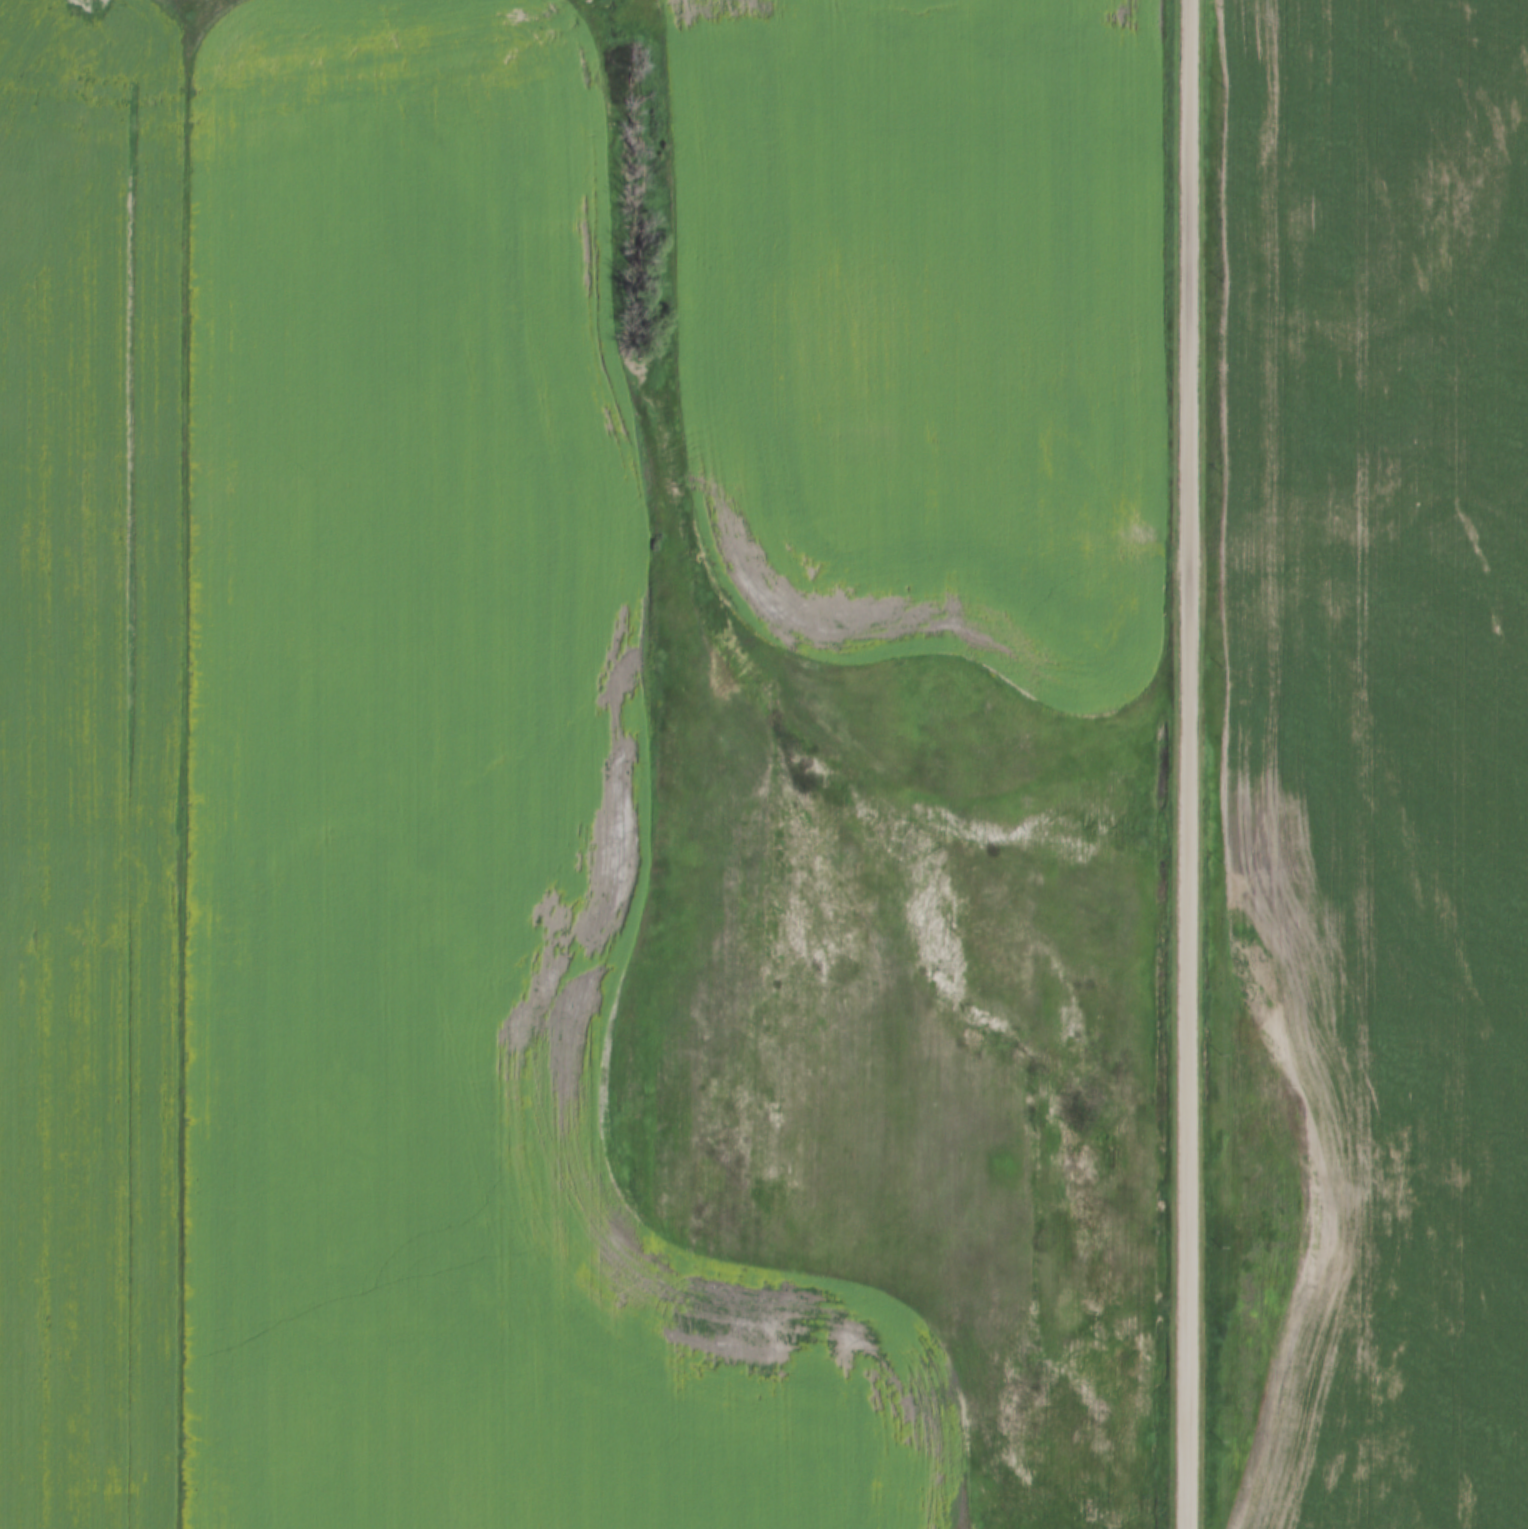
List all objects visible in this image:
road: (1188, 764)

